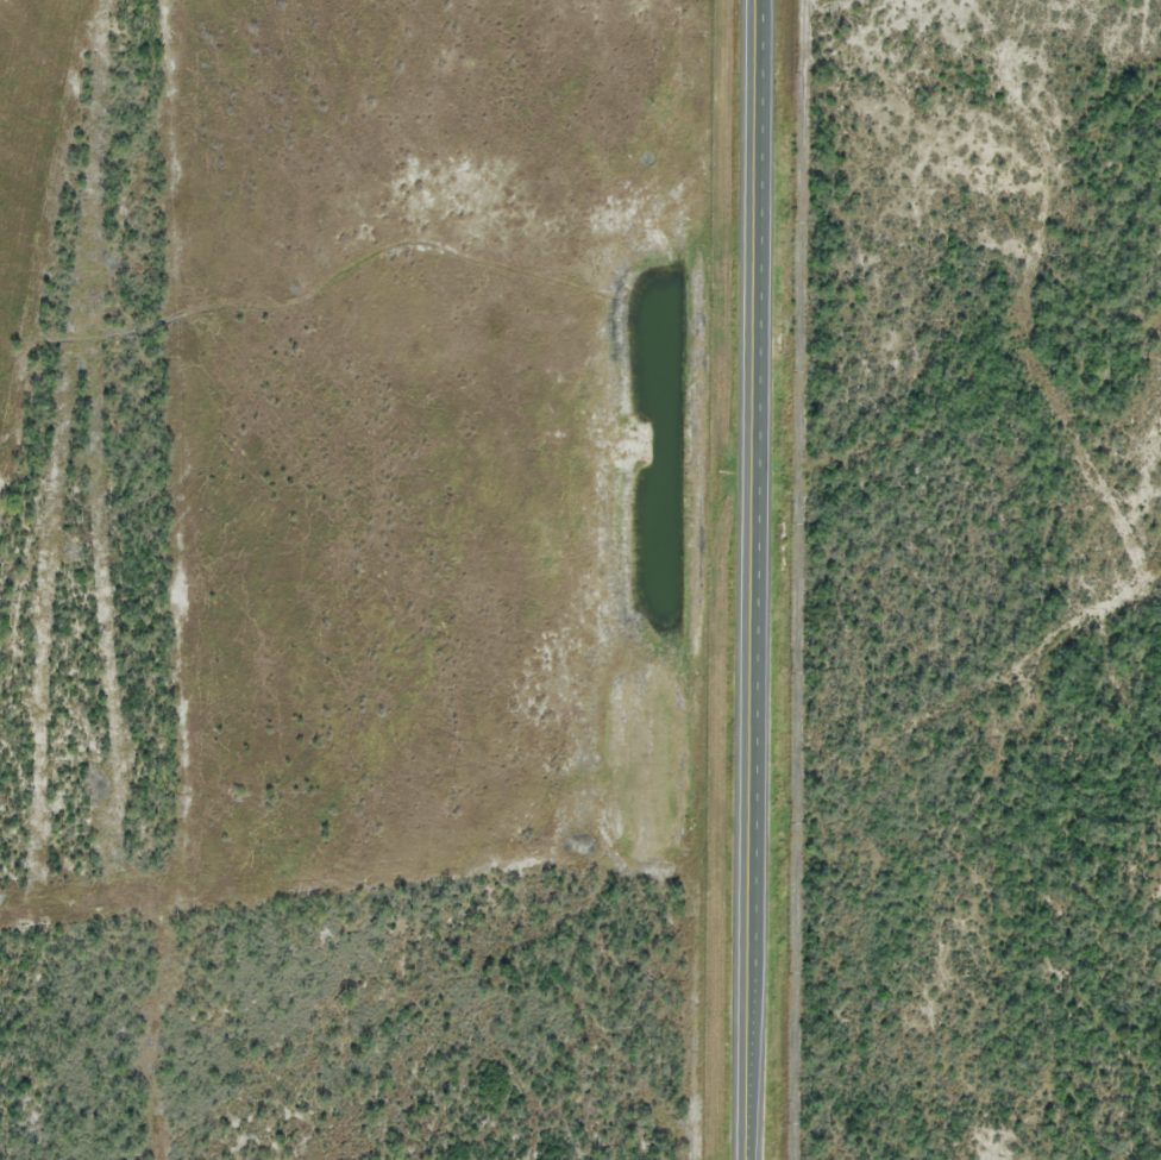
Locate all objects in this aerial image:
road: (759, 579)

